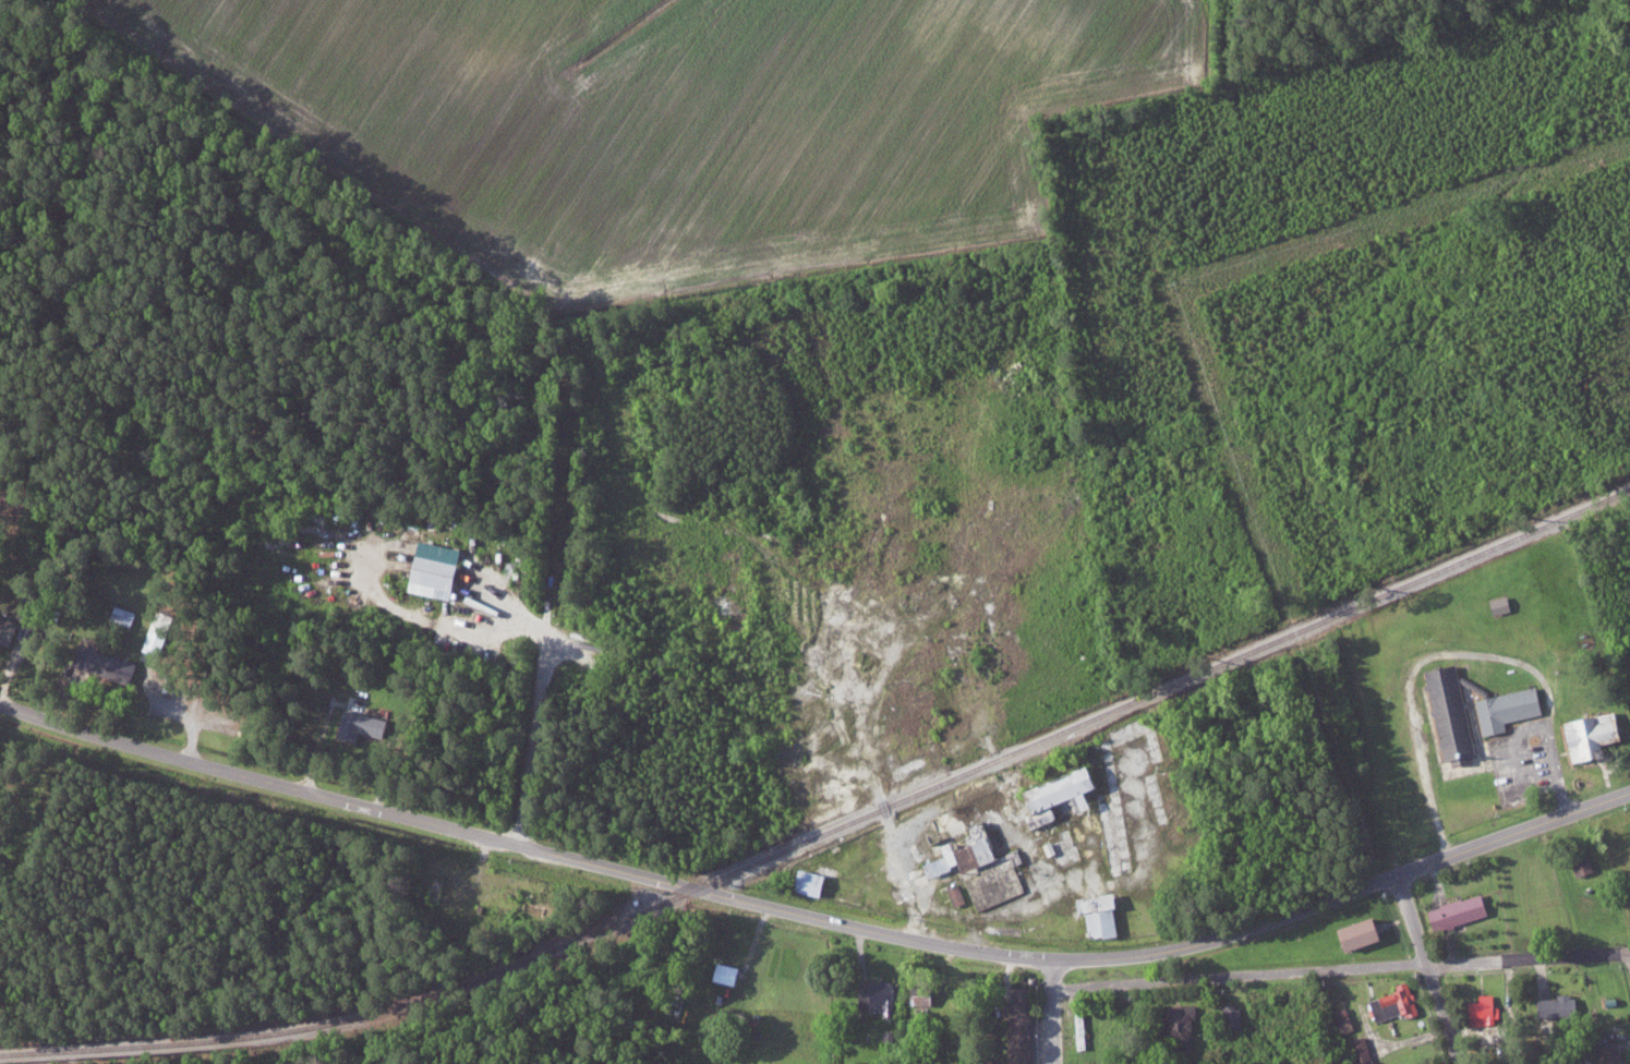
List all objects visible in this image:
road: (1224, 35)
road: (626, 467)
road: (560, 509)
building: (440, 568)
building: (1497, 604)
building: (125, 615)
building: (10, 630)
building: (161, 631)
building: (116, 666)
building: (1504, 708)
building: (1447, 713)
building: (364, 724)
building: (1586, 734)
railway: (1074, 738)
road: (254, 777)
building: (1049, 796)
railway: (831, 832)
building: (1579, 862)
building: (979, 867)
building: (954, 894)
road: (1406, 906)
building: (1453, 911)
building: (1095, 915)
building: (1351, 933)
road: (1077, 958)
road: (1341, 968)
building: (722, 971)
building: (873, 996)
building: (1392, 1002)
building: (1555, 1006)
building: (1480, 1007)
road: (1054, 1011)
building: (1230, 1017)
building: (1341, 1019)
building: (1175, 1026)
building: (1016, 1027)
building: (1356, 1049)
building: (1608, 1053)

